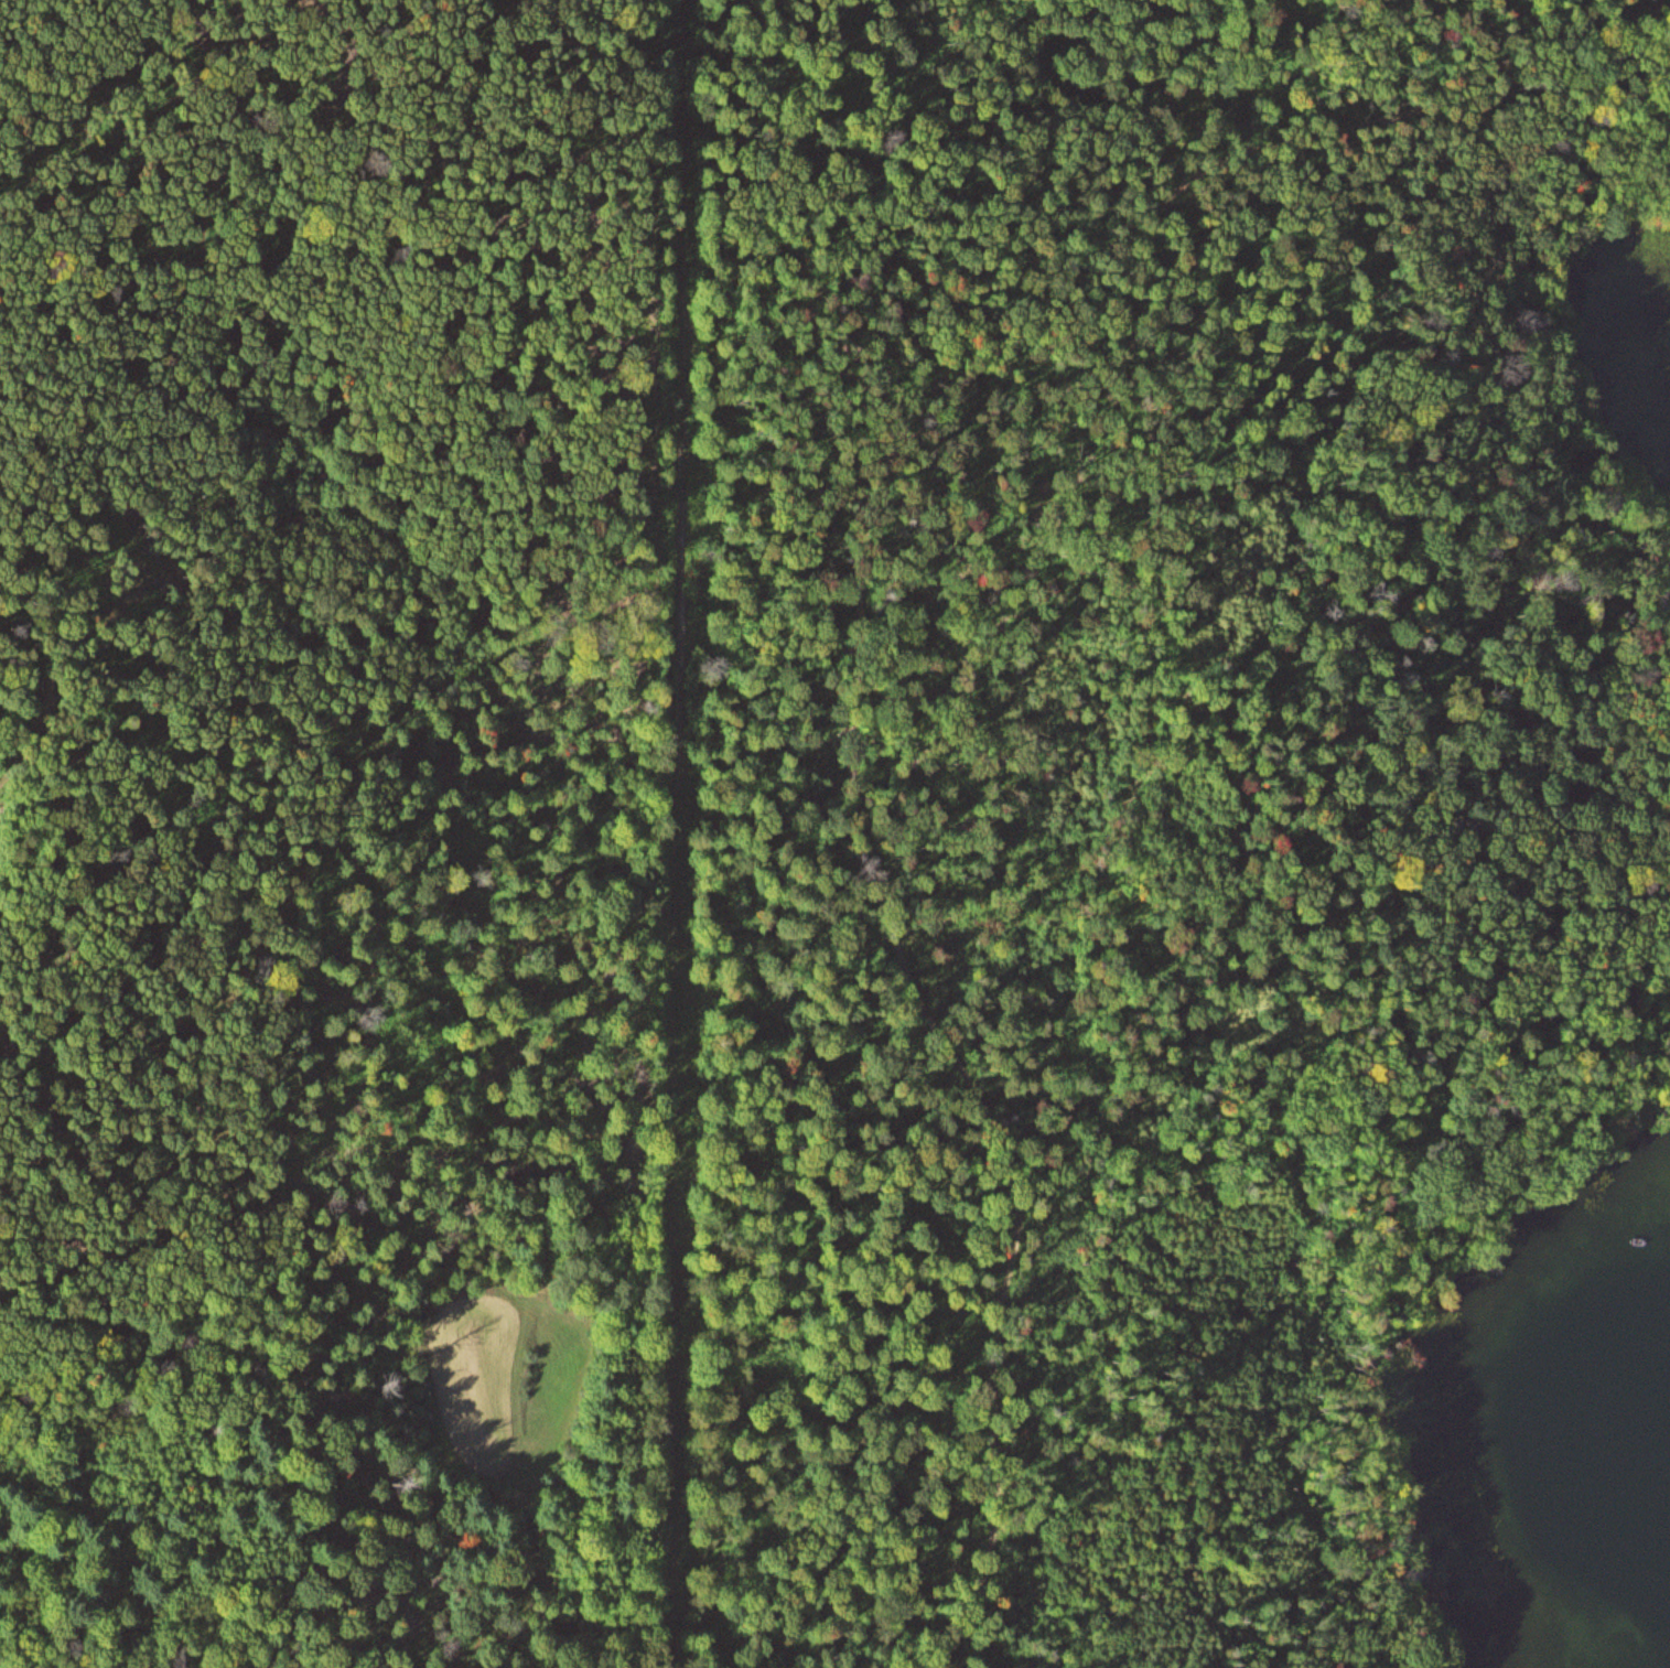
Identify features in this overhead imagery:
road: (834, 626)
road: (577, 1637)

